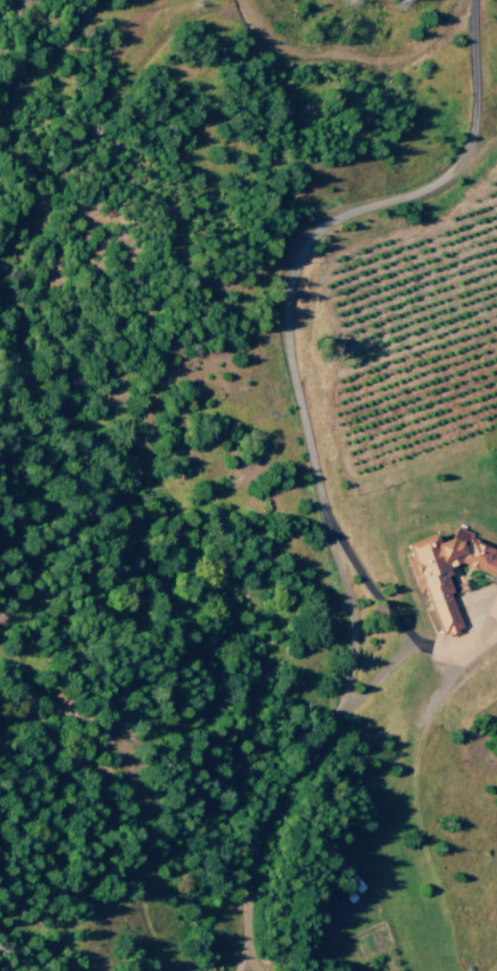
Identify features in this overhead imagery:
road: (475, 146)
road: (305, 450)
building: (439, 571)
building: (469, 600)
road: (250, 955)

